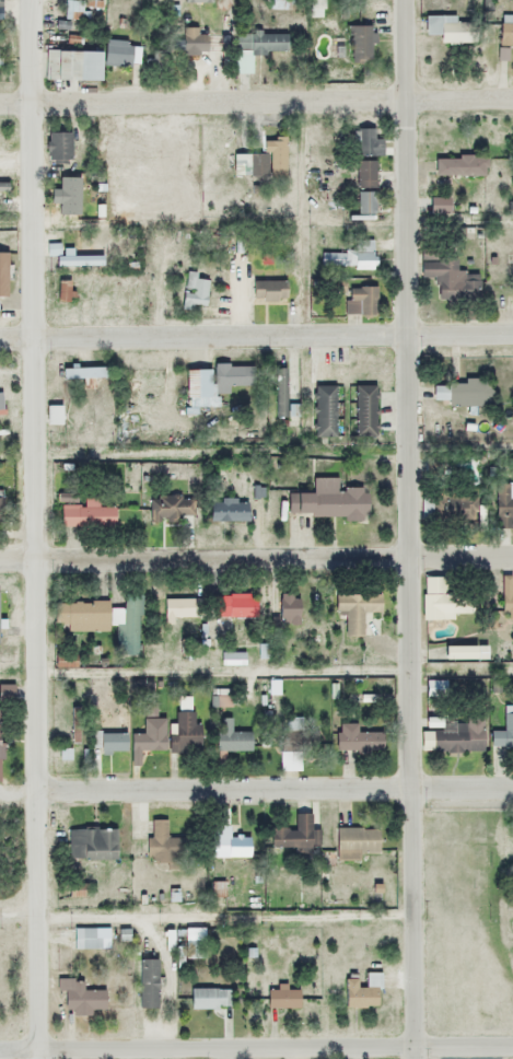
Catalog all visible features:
building: (278, 4)
building: (316, 9)
building: (74, 11)
building: (446, 30)
building: (504, 38)
building: (360, 44)
building: (193, 45)
building: (255, 48)
building: (116, 56)
building: (158, 61)
building: (70, 66)
road: (459, 97)
road: (202, 100)
building: (369, 143)
building: (58, 148)
building: (263, 162)
building: (460, 166)
building: (365, 175)
building: (63, 194)
building: (365, 207)
building: (360, 253)
building: (77, 259)
building: (448, 278)
building: (62, 291)
building: (195, 292)
building: (268, 292)
building: (361, 301)
road: (256, 336)
building: (83, 373)
building: (215, 381)
building: (279, 393)
building: (459, 393)
building: (325, 411)
building: (364, 411)
building: (327, 501)
building: (0, 504)
building: (503, 505)
building: (454, 508)
building: (170, 509)
building: (228, 511)
building: (88, 516)
road: (409, 528)
road: (33, 529)
road: (256, 559)
building: (506, 598)
building: (444, 603)
building: (235, 606)
building: (180, 609)
building: (289, 609)
building: (354, 612)
building: (81, 617)
building: (126, 622)
building: (451, 653)
building: (232, 659)
building: (434, 689)
building: (4, 693)
building: (185, 730)
building: (503, 732)
building: (458, 736)
building: (150, 737)
building: (230, 738)
building: (357, 741)
building: (109, 742)
building: (291, 745)
road: (273, 790)
building: (292, 837)
building: (357, 843)
building: (92, 845)
building: (225, 845)
building: (164, 846)
building: (148, 985)
building: (362, 992)
building: (80, 999)
building: (209, 999)
building: (282, 999)
road: (256, 1046)

